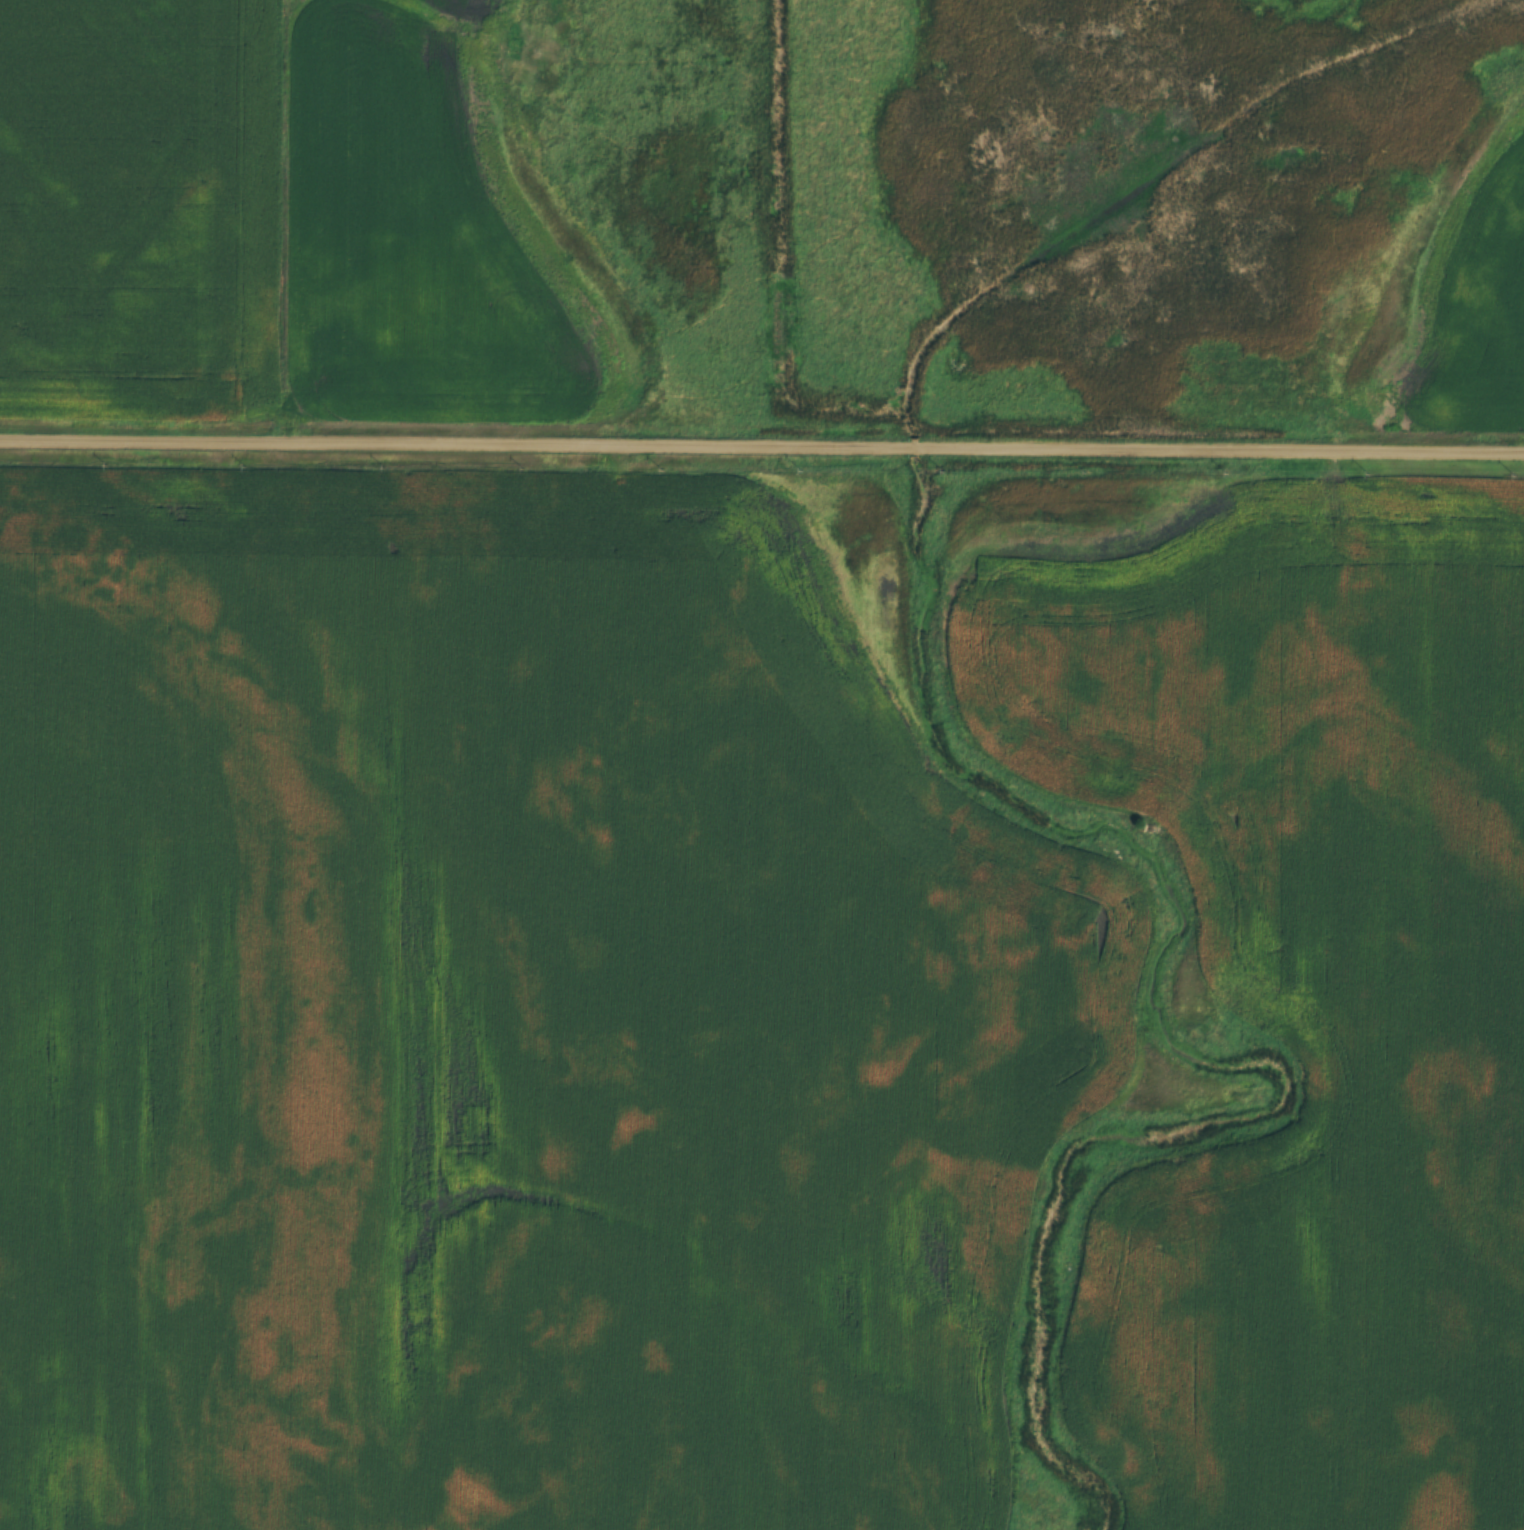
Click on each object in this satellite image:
crop: (1459, 297)
road: (761, 447)

